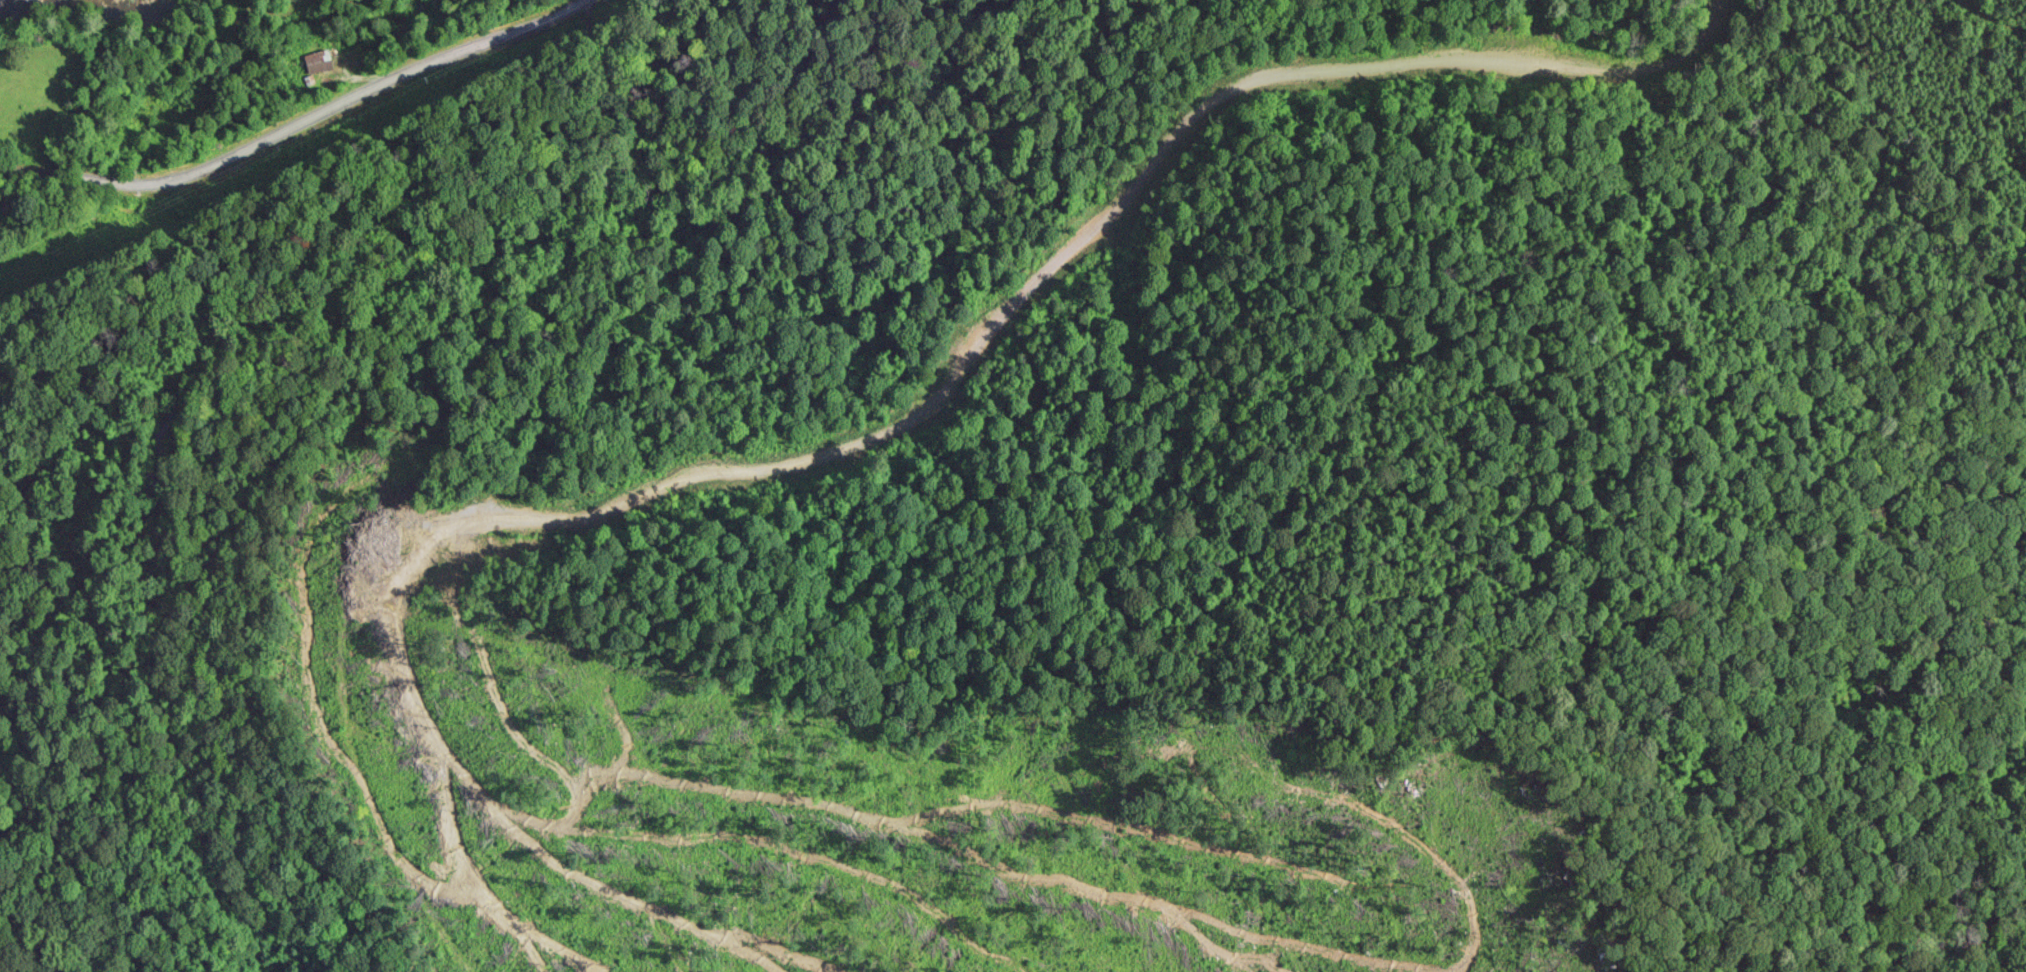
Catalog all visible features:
road: (288, 119)

